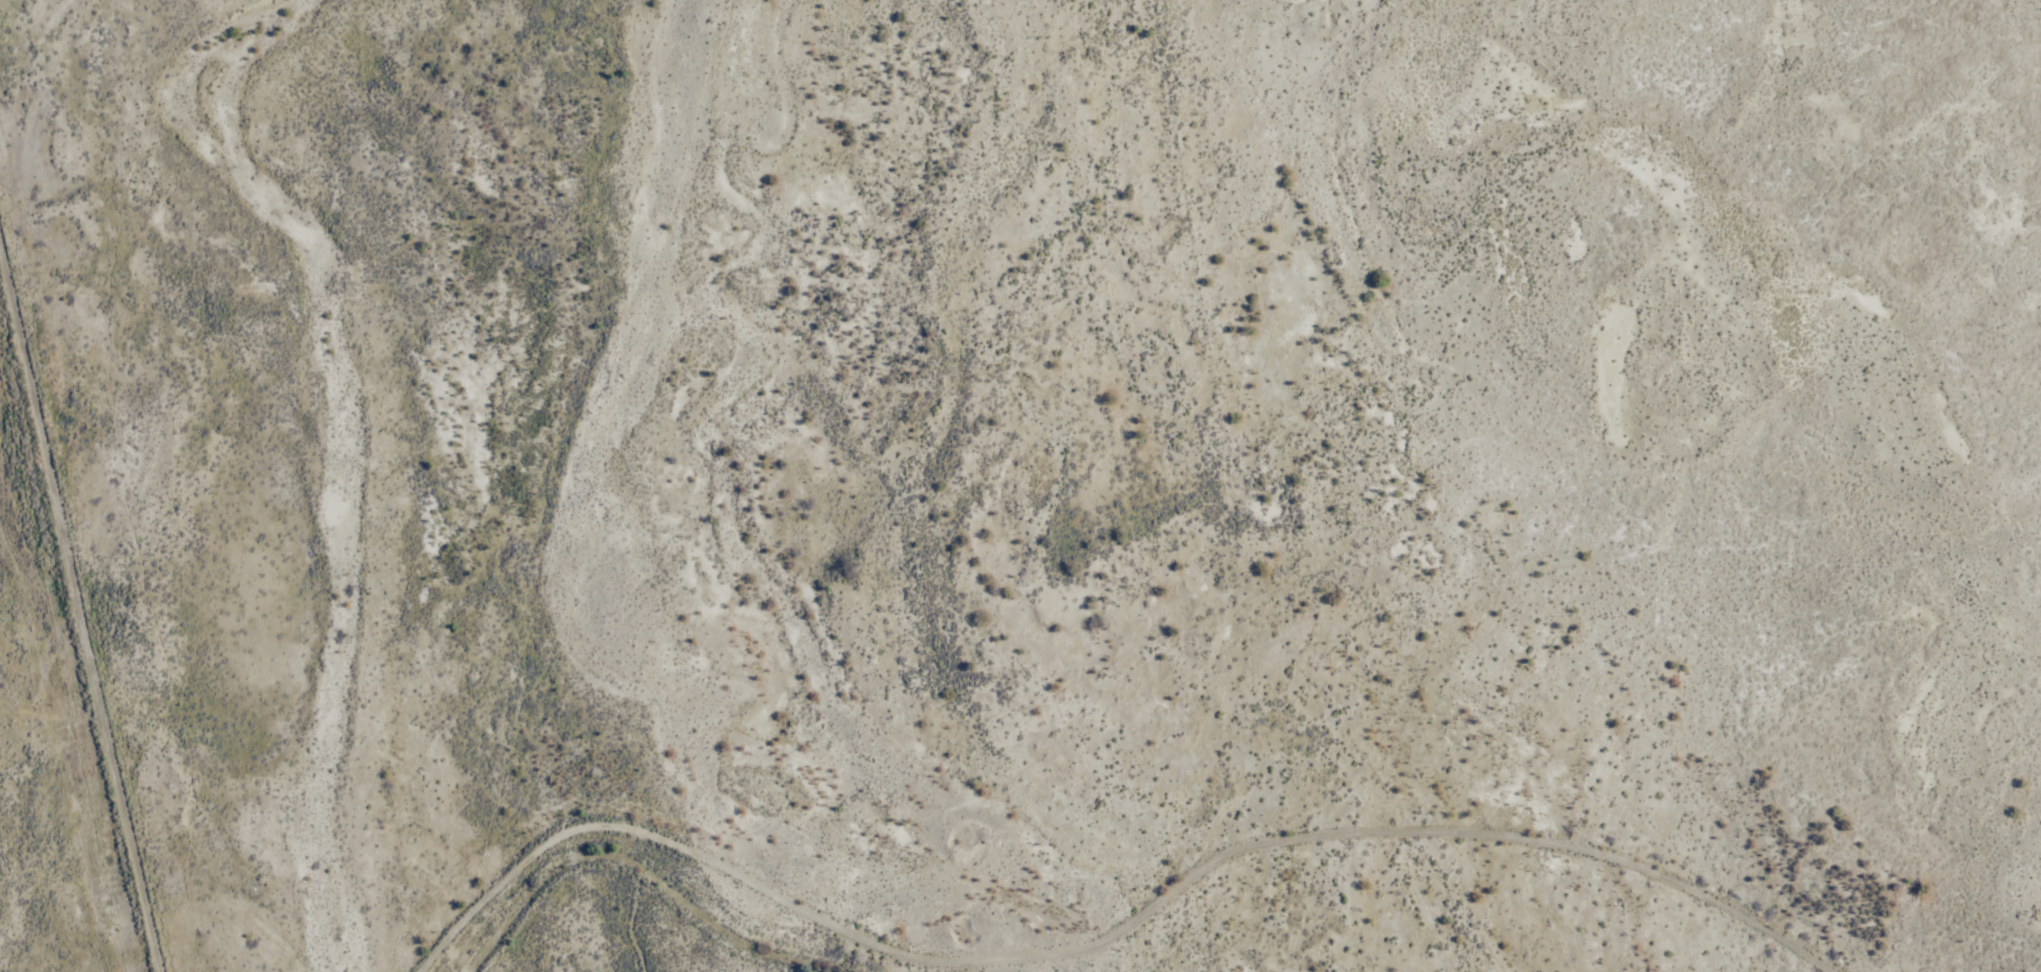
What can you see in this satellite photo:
road: (72, 641)
road: (1094, 940)

